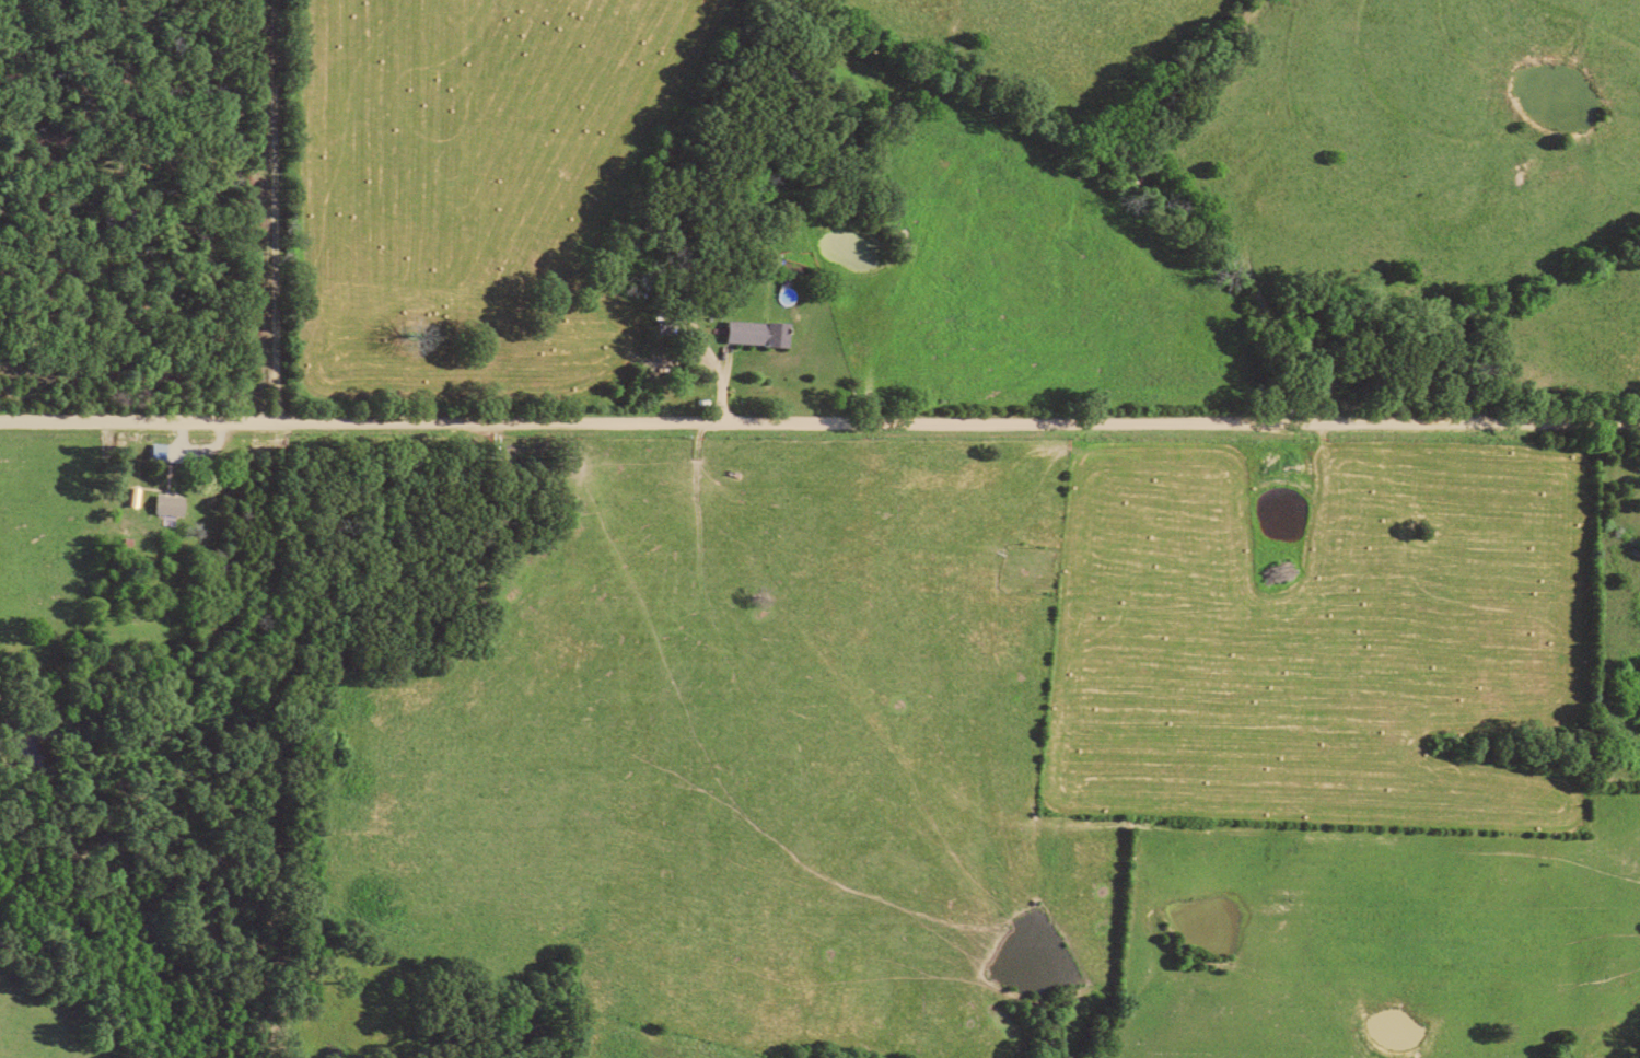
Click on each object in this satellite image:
road: (269, 209)
building: (766, 332)
road: (722, 385)
road: (819, 420)
road: (209, 457)
building: (176, 504)

